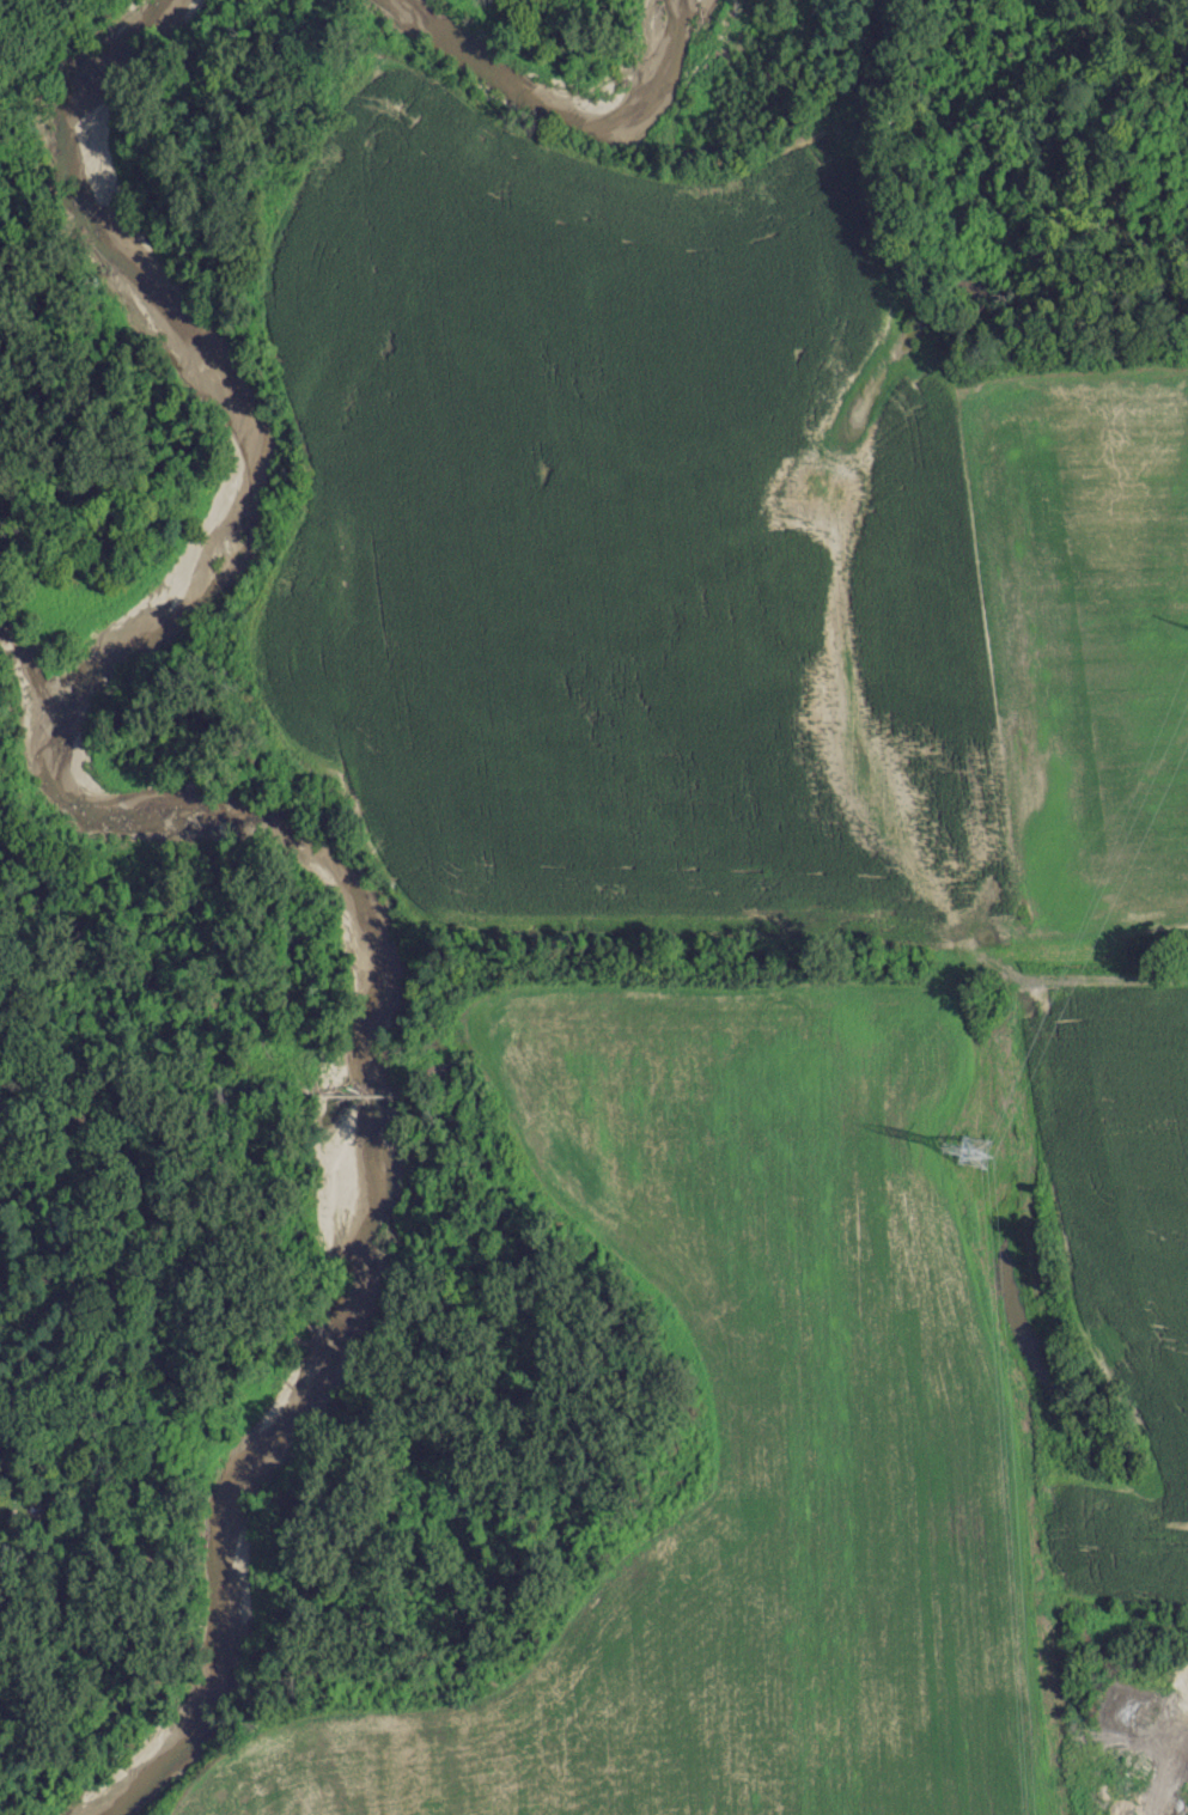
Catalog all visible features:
power tower: (971, 1151)

